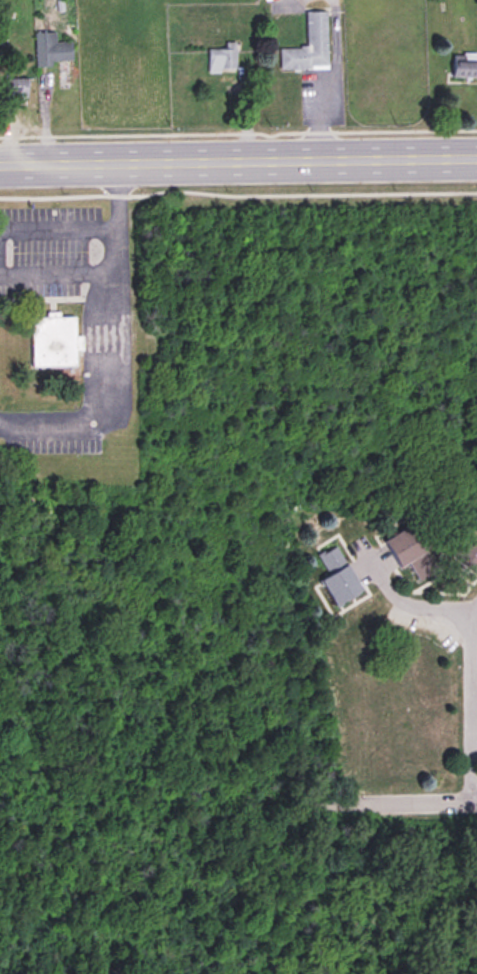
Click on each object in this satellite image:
building: (307, 45)
building: (50, 49)
building: (221, 58)
building: (464, 69)
road: (315, 81)
building: (15, 87)
road: (238, 162)
road: (57, 231)
road: (105, 267)
building: (65, 341)
building: (409, 551)
building: (466, 552)
building: (337, 576)
road: (398, 601)
road: (472, 703)
road: (398, 801)

